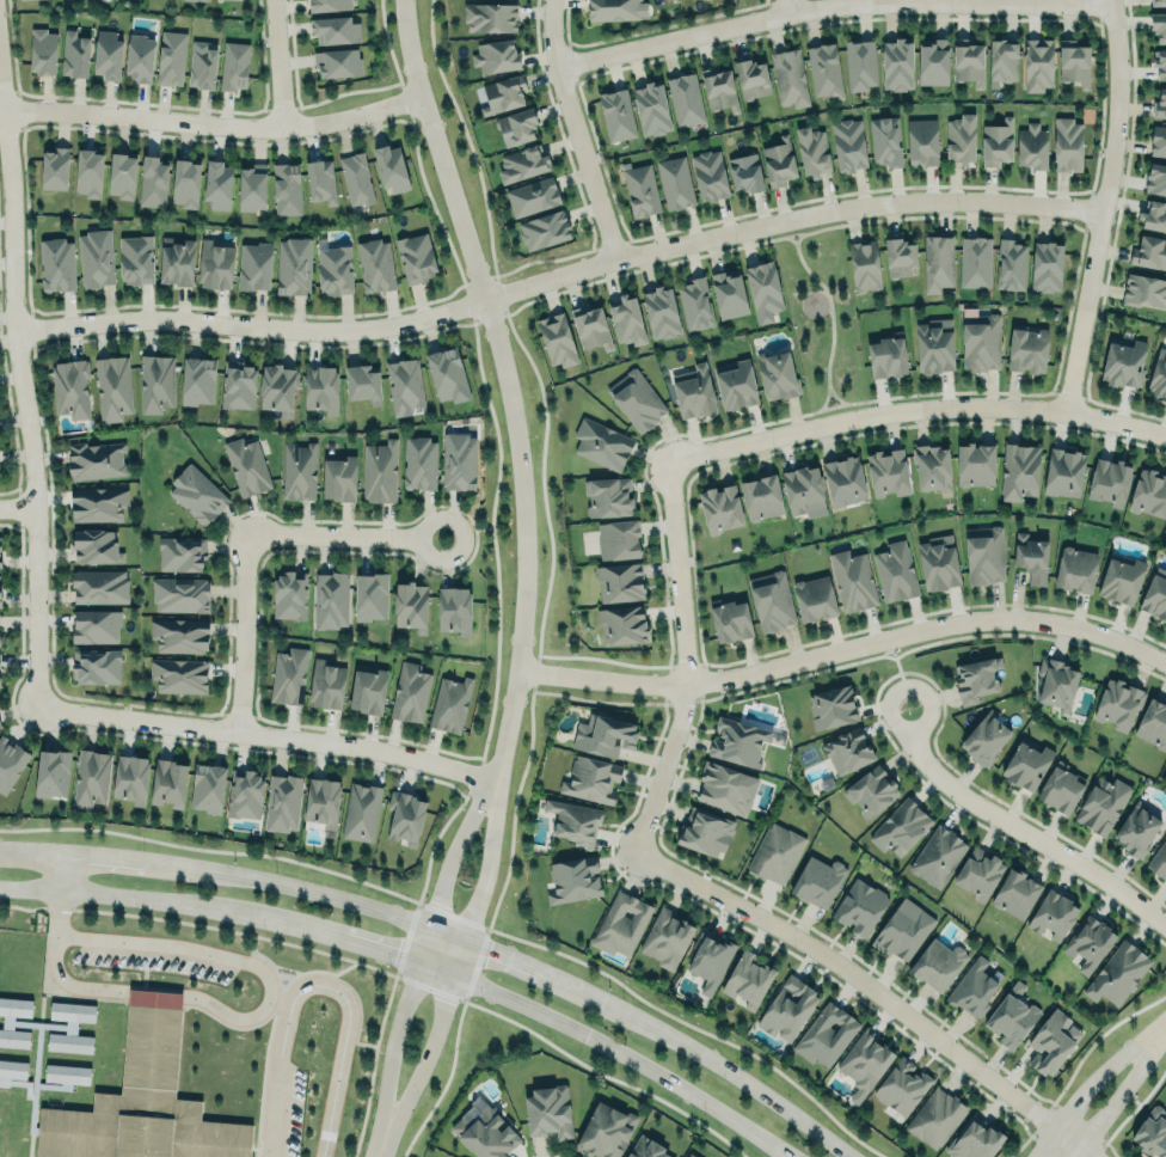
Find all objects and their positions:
building: (202, 0)
road: (894, 1)
building: (1158, 1)
building: (329, 2)
road: (785, 7)
road: (831, 7)
building: (615, 8)
building: (490, 17)
building: (1158, 23)
building: (335, 27)
building: (42, 51)
building: (74, 51)
building: (106, 54)
building: (496, 54)
building: (139, 56)
building: (170, 56)
building: (1002, 59)
building: (968, 60)
building: (932, 61)
building: (1160, 61)
building: (337, 62)
building: (897, 62)
building: (1037, 62)
building: (1073, 62)
building: (860, 65)
building: (234, 66)
building: (202, 67)
road: (274, 67)
building: (823, 68)
building: (751, 76)
building: (788, 78)
building: (719, 88)
building: (503, 93)
building: (686, 98)
building: (1160, 102)
building: (651, 106)
building: (616, 115)
building: (517, 127)
road: (573, 129)
road: (210, 131)
building: (885, 139)
building: (961, 139)
building: (1158, 139)
building: (922, 140)
building: (996, 141)
building: (1067, 142)
building: (848, 143)
building: (1031, 146)
building: (812, 148)
building: (778, 161)
building: (522, 163)
building: (391, 166)
building: (54, 169)
building: (745, 170)
building: (88, 172)
building: (121, 175)
building: (708, 175)
building: (1155, 176)
building: (320, 179)
building: (356, 179)
building: (674, 180)
building: (152, 182)
building: (185, 182)
building: (217, 182)
building: (252, 186)
building: (287, 188)
building: (639, 188)
building: (532, 194)
road: (1103, 204)
building: (1153, 213)
road: (805, 228)
building: (544, 229)
building: (1149, 250)
building: (900, 255)
building: (94, 257)
building: (416, 257)
building: (135, 259)
building: (176, 259)
building: (214, 262)
building: (937, 262)
building: (974, 262)
building: (293, 263)
building: (56, 264)
building: (864, 264)
building: (1011, 264)
building: (1047, 264)
building: (254, 265)
building: (333, 265)
building: (375, 265)
road: (558, 274)
building: (763, 289)
building: (1143, 289)
building: (729, 293)
building: (695, 302)
building: (661, 310)
road: (830, 314)
building: (626, 320)
building: (590, 325)
building: (557, 337)
building: (981, 339)
building: (934, 343)
building: (1026, 349)
building: (886, 355)
building: (1123, 361)
building: (446, 369)
building: (1158, 373)
building: (777, 374)
road: (22, 379)
building: (197, 379)
building: (363, 380)
building: (155, 382)
building: (404, 384)
road: (503, 384)
building: (736, 384)
building: (238, 385)
building: (277, 386)
building: (321, 386)
building: (112, 387)
building: (70, 388)
building: (693, 390)
building: (636, 398)
road: (847, 403)
road: (915, 408)
building: (601, 443)
building: (94, 458)
building: (458, 459)
building: (418, 460)
building: (972, 461)
building: (240, 464)
building: (932, 466)
building: (297, 469)
building: (1018, 469)
building: (888, 470)
building: (1061, 470)
building: (379, 471)
building: (339, 477)
building: (1109, 478)
building: (843, 479)
building: (803, 486)
building: (1148, 490)
building: (191, 492)
building: (761, 495)
building: (608, 496)
building: (97, 502)
building: (720, 508)
road: (18, 510)
road: (481, 526)
road: (342, 534)
building: (618, 537)
building: (94, 544)
building: (982, 552)
building: (180, 553)
building: (1030, 555)
building: (937, 561)
building: (0, 562)
building: (1075, 567)
building: (895, 571)
building: (1119, 577)
building: (852, 578)
building: (619, 581)
building: (99, 586)
building: (179, 593)
building: (1155, 593)
building: (0, 594)
building: (284, 594)
building: (370, 594)
building: (810, 595)
building: (330, 598)
building: (771, 599)
building: (411, 606)
building: (454, 607)
building: (731, 620)
building: (622, 624)
building: (94, 626)
road: (243, 630)
building: (179, 632)
road: (845, 648)
road: (687, 659)
road: (896, 660)
building: (96, 666)
road: (918, 667)
building: (179, 674)
building: (288, 675)
building: (975, 675)
building: (1056, 681)
building: (326, 684)
building: (367, 691)
building: (410, 692)
building: (1117, 702)
building: (449, 703)
building: (831, 706)
building: (1152, 722)
road: (268, 733)
building: (603, 734)
building: (983, 736)
building: (737, 741)
building: (847, 751)
building: (10, 760)
building: (1026, 764)
building: (51, 773)
building: (91, 776)
building: (127, 776)
building: (589, 777)
building: (168, 779)
building: (207, 785)
building: (725, 785)
building: (1061, 788)
building: (870, 790)
building: (245, 791)
building: (321, 800)
building: (282, 801)
building: (1101, 803)
building: (356, 810)
building: (405, 816)
building: (573, 819)
building: (901, 826)
building: (1135, 828)
building: (704, 830)
road: (1018, 830)
road: (455, 847)
building: (775, 852)
road: (98, 853)
building: (937, 855)
road: (487, 859)
building: (1159, 861)
road: (65, 870)
building: (977, 871)
building: (573, 877)
building: (817, 880)
road: (315, 889)
building: (1014, 892)
road: (148, 898)
building: (859, 905)
building: (1053, 914)
building: (620, 923)
building: (902, 929)
road: (448, 931)
building: (665, 937)
building: (1087, 941)
road: (357, 942)
road: (424, 943)
road: (225, 956)
road: (459, 956)
building: (708, 960)
building: (938, 962)
road: (54, 968)
road: (436, 968)
road: (550, 972)
building: (1117, 973)
building: (745, 978)
building: (971, 987)
road: (871, 988)
road: (155, 993)
road: (280, 999)
building: (786, 1006)
building: (1011, 1016)
building: (7, 1022)
building: (70, 1027)
building: (826, 1034)
building: (1051, 1040)
road: (342, 1045)
road: (391, 1049)
road: (626, 1054)
road: (423, 1060)
building: (864, 1063)
building: (12, 1070)
building: (66, 1075)
road: (276, 1078)
road: (745, 1079)
road: (1092, 1083)
building: (901, 1085)
road: (1123, 1092)
building: (141, 1106)
building: (547, 1112)
building: (935, 1116)
building: (484, 1130)
building: (605, 1131)
building: (1152, 1132)
building: (975, 1138)
building: (645, 1147)
road: (379, 1149)
building: (689, 1155)

